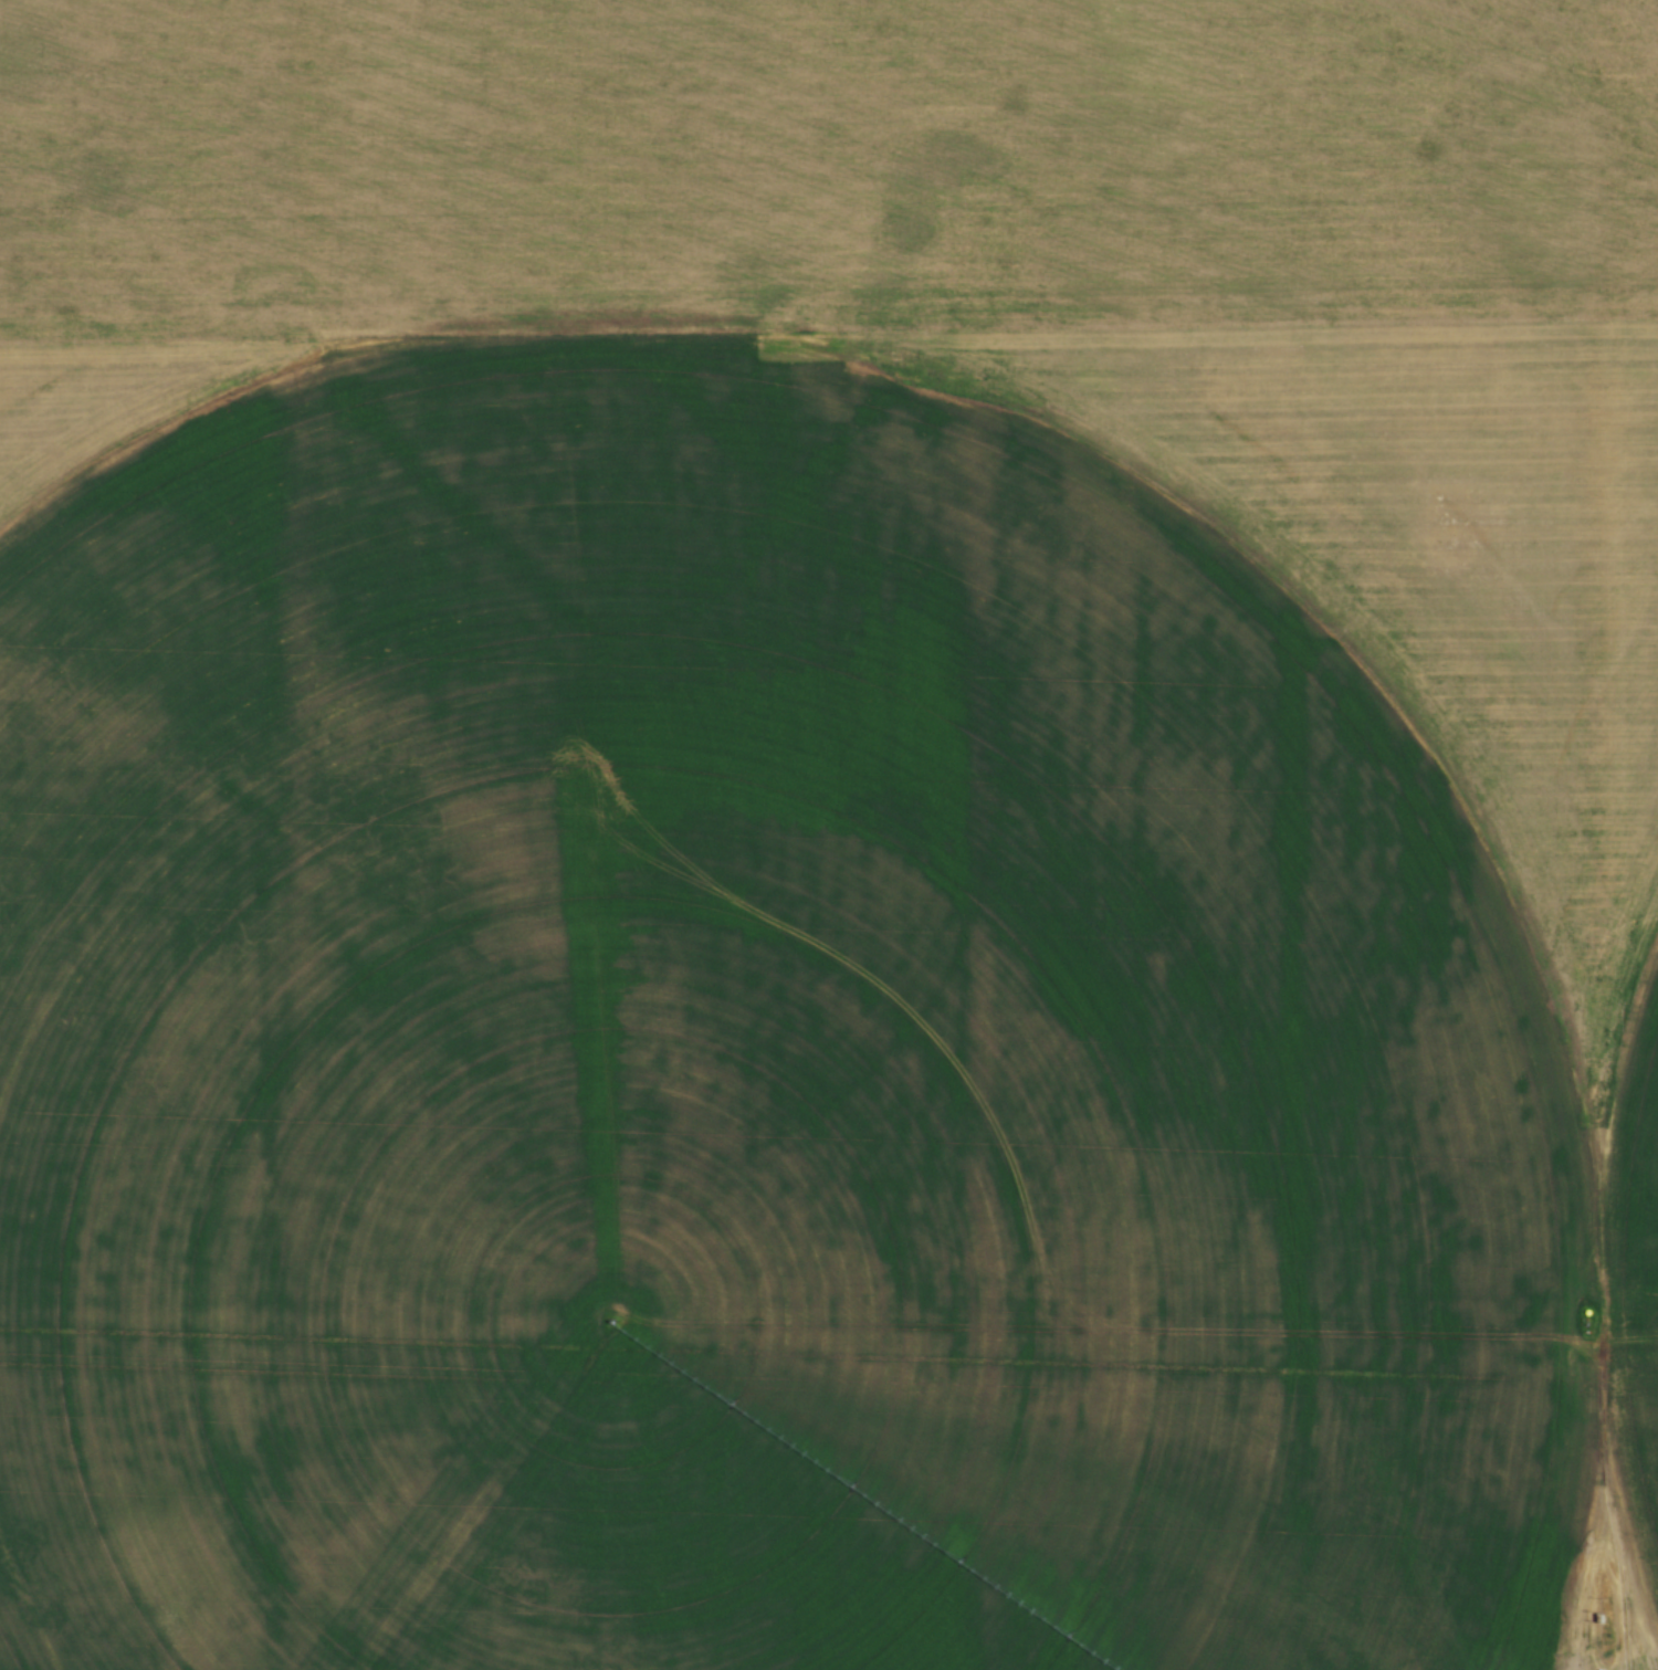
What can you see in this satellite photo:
crop: (829, 834)

